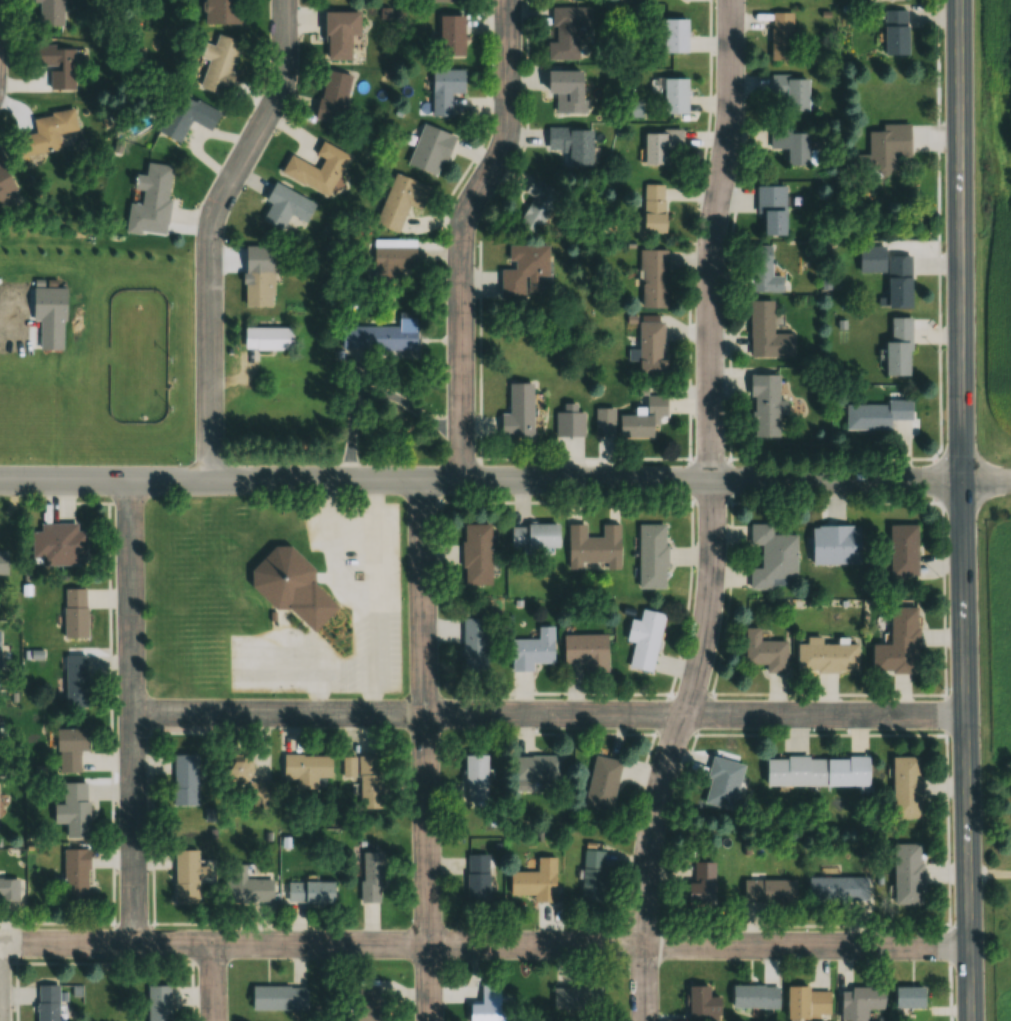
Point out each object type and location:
building: (441, 0)
building: (883, 2)
building: (221, 11)
building: (48, 12)
building: (565, 31)
building: (338, 33)
building: (449, 35)
building: (674, 35)
building: (782, 36)
building: (889, 39)
building: (218, 63)
building: (57, 64)
building: (444, 90)
building: (566, 91)
building: (789, 93)
building: (675, 95)
building: (332, 96)
building: (186, 116)
street lamp: (938, 117)
building: (48, 132)
building: (571, 144)
building: (660, 145)
building: (790, 145)
building: (429, 150)
building: (879, 151)
building: (316, 169)
building: (5, 182)
building: (154, 192)
building: (400, 201)
building: (537, 205)
crop: (997, 205)
building: (284, 207)
building: (653, 207)
building: (771, 210)
road: (215, 230)
road: (466, 234)
building: (394, 256)
building: (762, 268)
building: (524, 270)
building: (881, 274)
building: (653, 278)
building: (766, 332)
building: (379, 337)
building: (267, 338)
building: (651, 348)
building: (891, 353)
park: (124, 354)
building: (765, 405)
building: (518, 412)
building: (642, 418)
building: (871, 420)
building: (569, 424)
street lamp: (941, 447)
road: (985, 479)
road: (479, 480)
road: (936, 510)
road: (960, 510)
road: (712, 514)
building: (533, 535)
building: (57, 543)
building: (834, 543)
building: (593, 547)
building: (476, 553)
building: (896, 554)
building: (651, 555)
building: (772, 555)
building: (3, 562)
building: (289, 586)
building: (75, 612)
crop: (995, 627)
building: (644, 638)
building: (474, 645)
building: (532, 650)
building: (891, 650)
building: (586, 651)
building: (765, 651)
building: (827, 657)
building: (76, 680)
street lamp: (943, 683)
road: (130, 711)
road: (547, 713)
building: (69, 748)
building: (1, 750)
road: (426, 750)
building: (538, 766)
building: (304, 770)
building: (816, 770)
building: (474, 777)
building: (184, 779)
building: (247, 781)
building: (370, 781)
building: (602, 782)
building: (722, 782)
building: (899, 792)
building: (75, 809)
building: (187, 874)
building: (74, 875)
building: (592, 875)
road: (989, 875)
building: (370, 876)
building: (477, 878)
building: (901, 879)
building: (536, 880)
building: (701, 884)
building: (246, 886)
building: (8, 887)
building: (837, 887)
building: (309, 891)
building: (769, 891)
street lamp: (951, 917)
road: (484, 944)
road: (213, 982)
building: (755, 996)
building: (278, 997)
building: (573, 997)
building: (702, 1001)
building: (860, 1001)
building: (47, 1002)
building: (158, 1002)
building: (808, 1002)
building: (367, 1003)
building: (902, 1003)
building: (488, 1006)
crop: (996, 1006)

